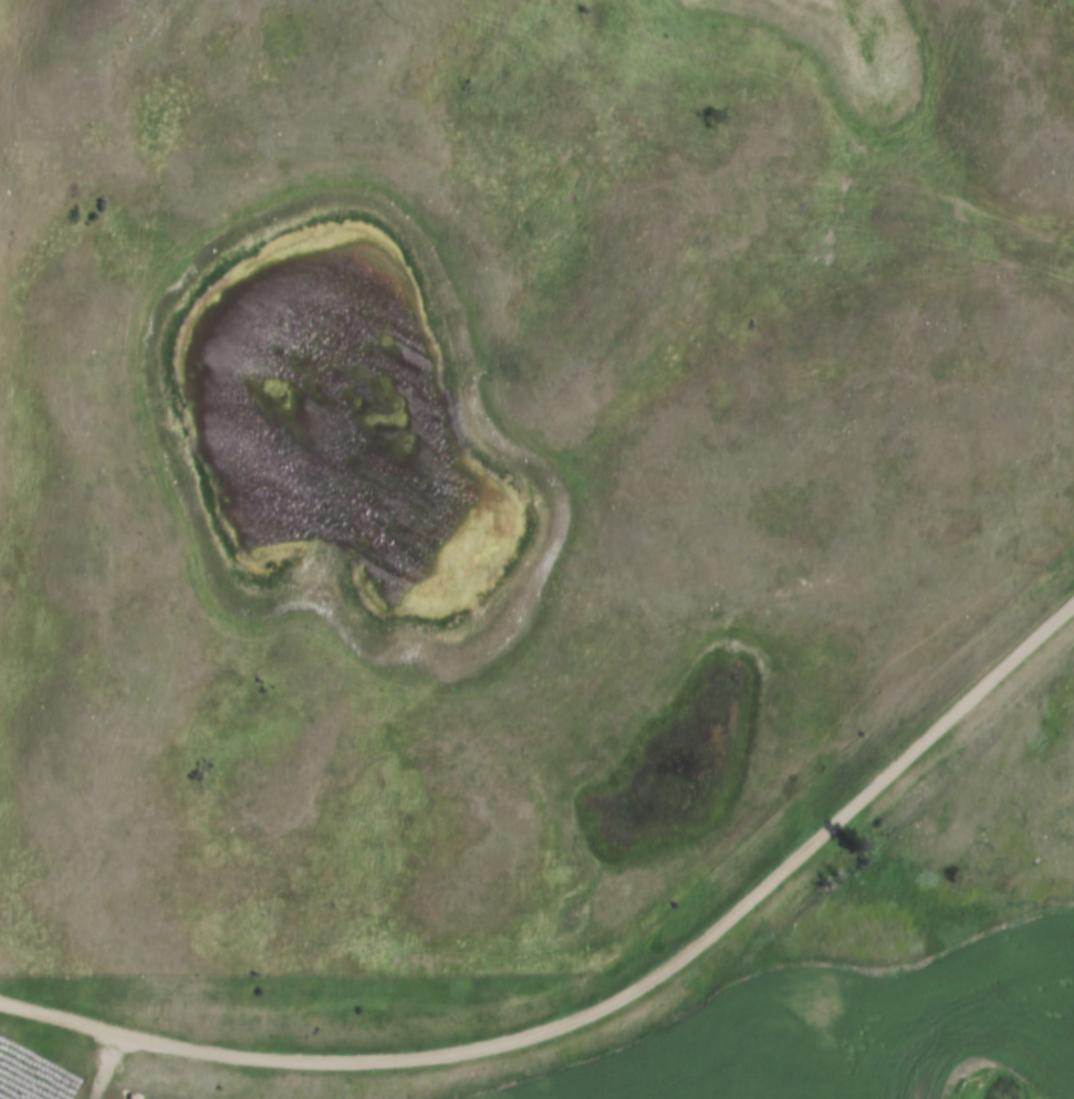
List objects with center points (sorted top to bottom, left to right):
road: (604, 998)

